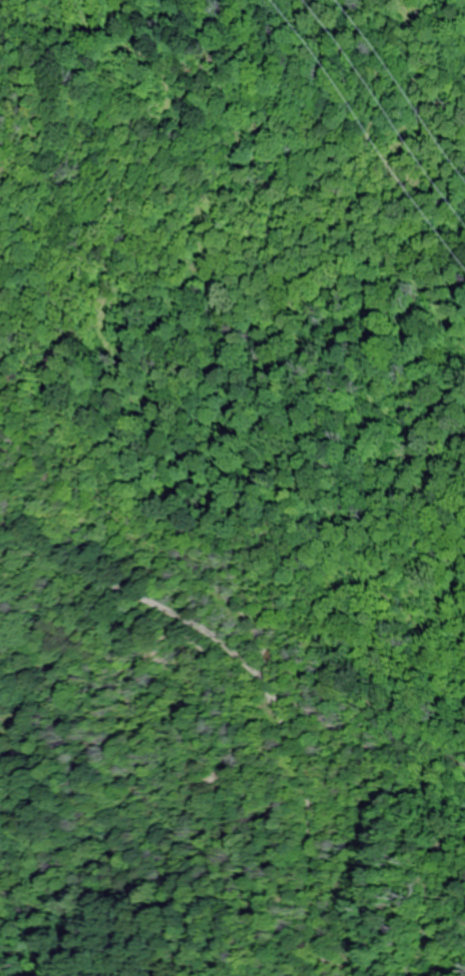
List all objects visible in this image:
road: (207, 715)

